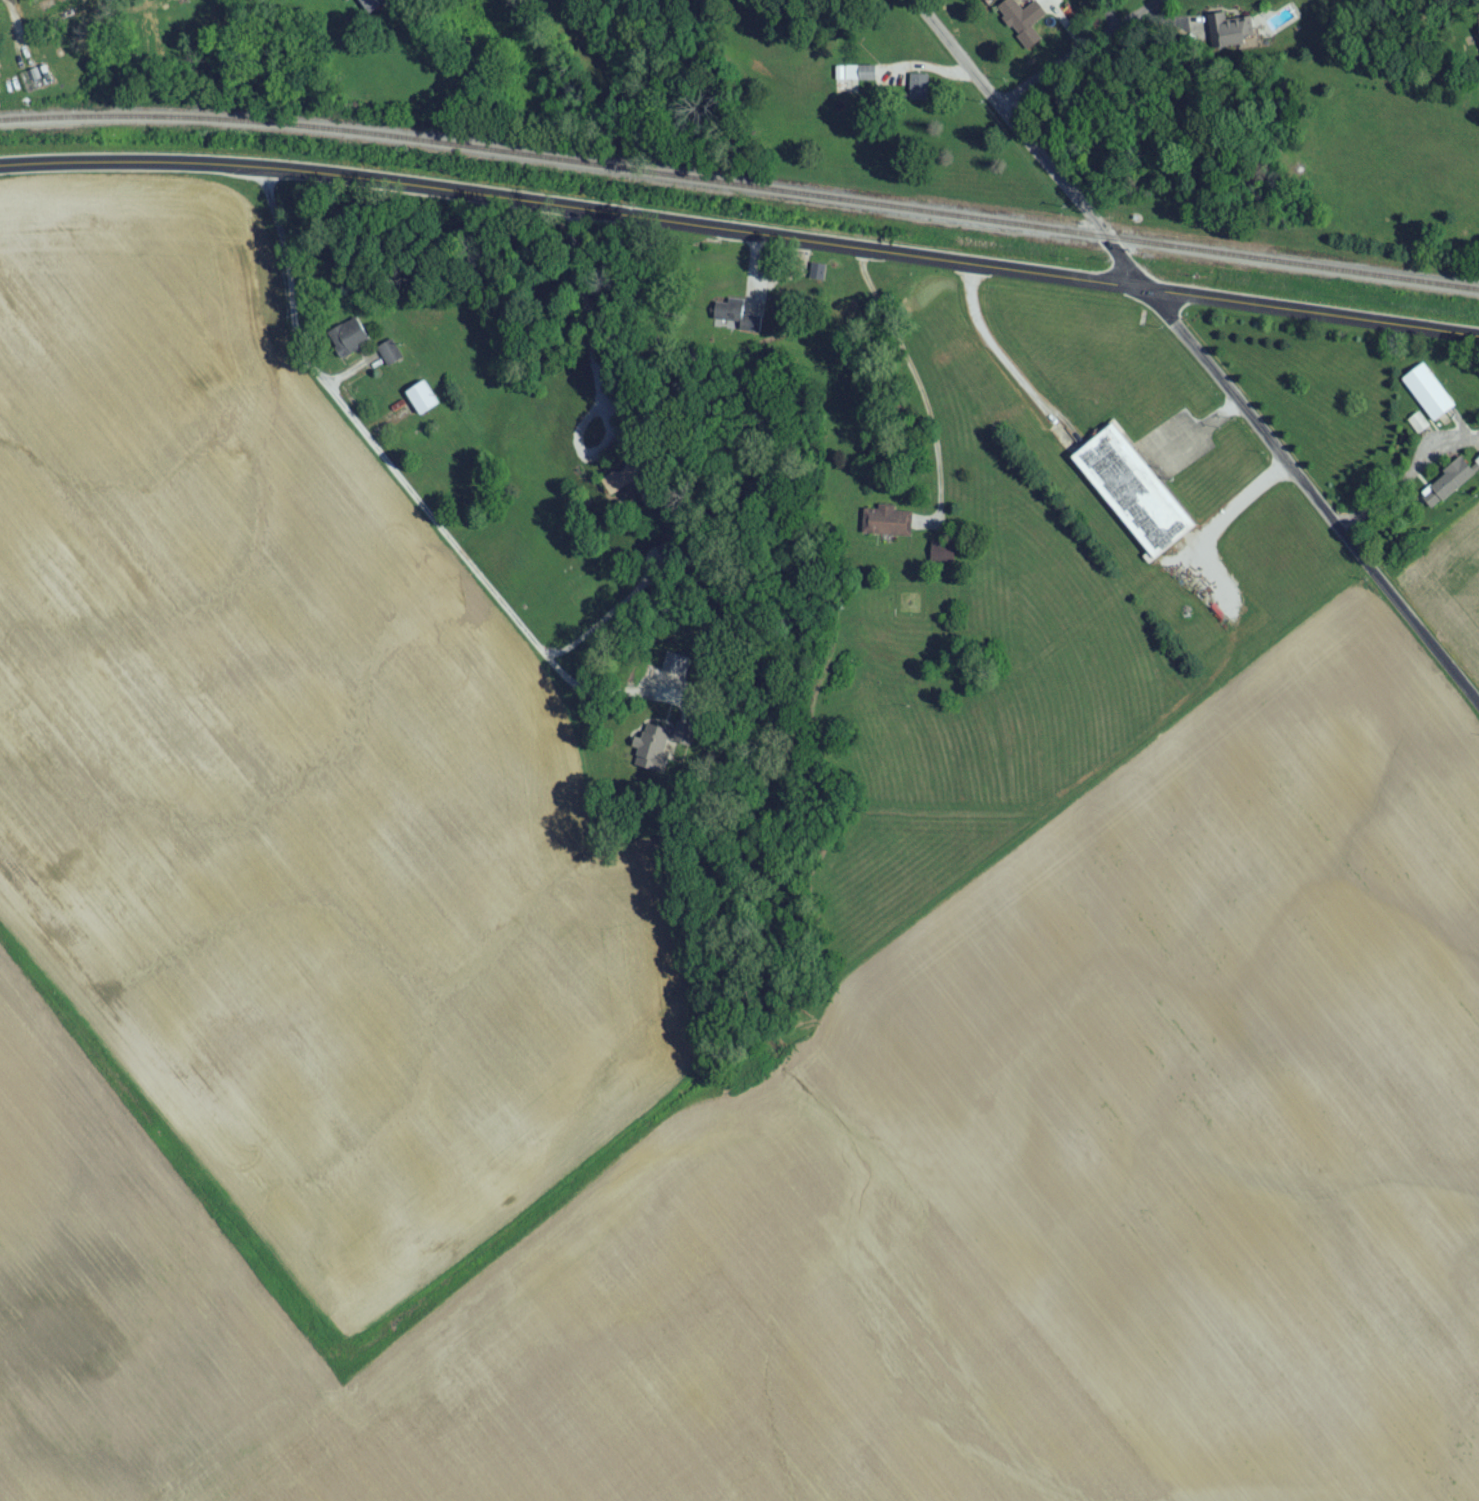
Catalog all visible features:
building: (146, 0)
building: (371, 8)
building: (63, 15)
building: (1021, 21)
road: (1080, 54)
building: (868, 78)
building: (919, 93)
road: (1027, 145)
railway: (740, 193)
road: (740, 235)
building: (358, 343)
road: (998, 349)
building: (391, 359)
road: (601, 373)
road: (917, 378)
building: (1428, 398)
building: (423, 404)
building: (1477, 466)
road: (403, 479)
road: (1408, 480)
building: (628, 481)
building: (1448, 489)
road: (1312, 496)
building: (1135, 497)
road: (1242, 514)
building: (943, 556)
road: (601, 621)
building: (658, 750)

